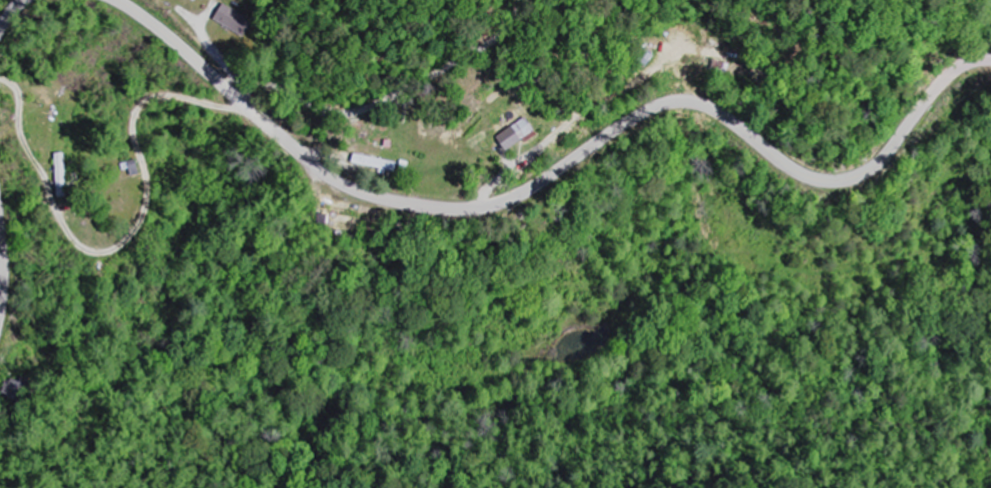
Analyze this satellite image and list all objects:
road: (12, 16)
building: (233, 21)
road: (393, 95)
building: (516, 134)
building: (374, 162)
road: (558, 171)
road: (128, 234)
road: (3, 270)

